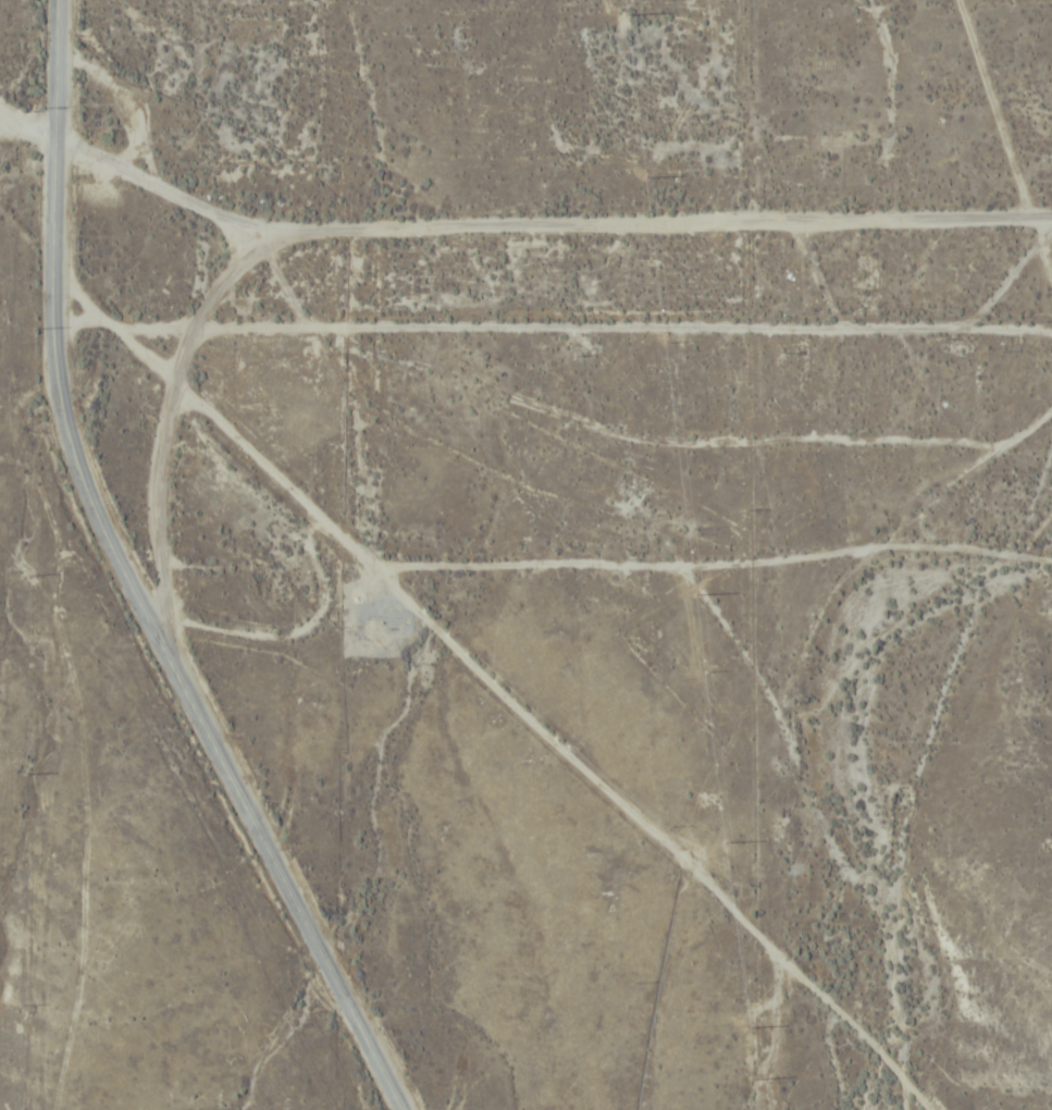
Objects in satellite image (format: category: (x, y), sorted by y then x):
road: (516, 235)
road: (203, 409)
road: (128, 580)

